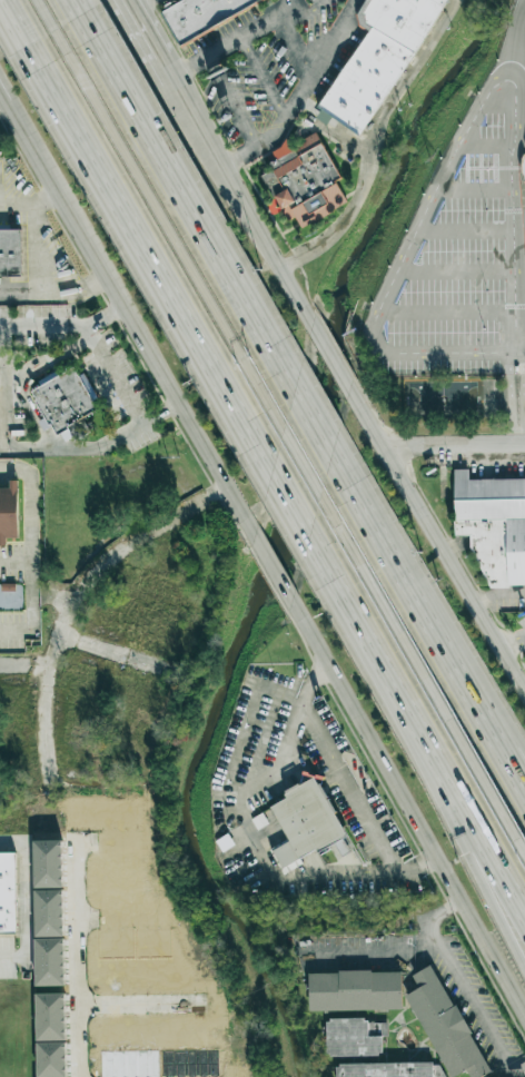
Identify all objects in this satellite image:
road: (79, 6)
road: (22, 12)
road: (301, 13)
road: (41, 14)
building: (202, 16)
road: (519, 19)
road: (9, 33)
road: (147, 38)
road: (221, 45)
building: (377, 59)
road: (307, 73)
road: (4, 105)
road: (196, 120)
road: (277, 132)
road: (372, 141)
building: (524, 167)
building: (305, 181)
road: (515, 191)
road: (33, 200)
road: (407, 250)
building: (10, 254)
road: (105, 314)
road: (1, 323)
road: (22, 323)
road: (515, 345)
road: (524, 350)
road: (1, 365)
road: (204, 369)
road: (112, 374)
parking lot: (67, 384)
road: (304, 389)
building: (63, 404)
road: (161, 412)
road: (373, 425)
road: (287, 444)
road: (454, 445)
road: (38, 446)
building: (9, 511)
building: (493, 525)
road: (30, 547)
road: (265, 549)
road: (96, 569)
building: (10, 596)
road: (115, 653)
road: (43, 724)
road: (347, 789)
road: (455, 807)
building: (305, 822)
road: (455, 831)
road: (116, 880)
building: (7, 893)
road: (433, 919)
road: (370, 950)
building: (50, 962)
road: (75, 962)
building: (355, 991)
road: (135, 1005)
road: (478, 1011)
building: (50, 1016)
building: (444, 1025)
building: (355, 1037)
building: (51, 1059)
building: (389, 1070)

